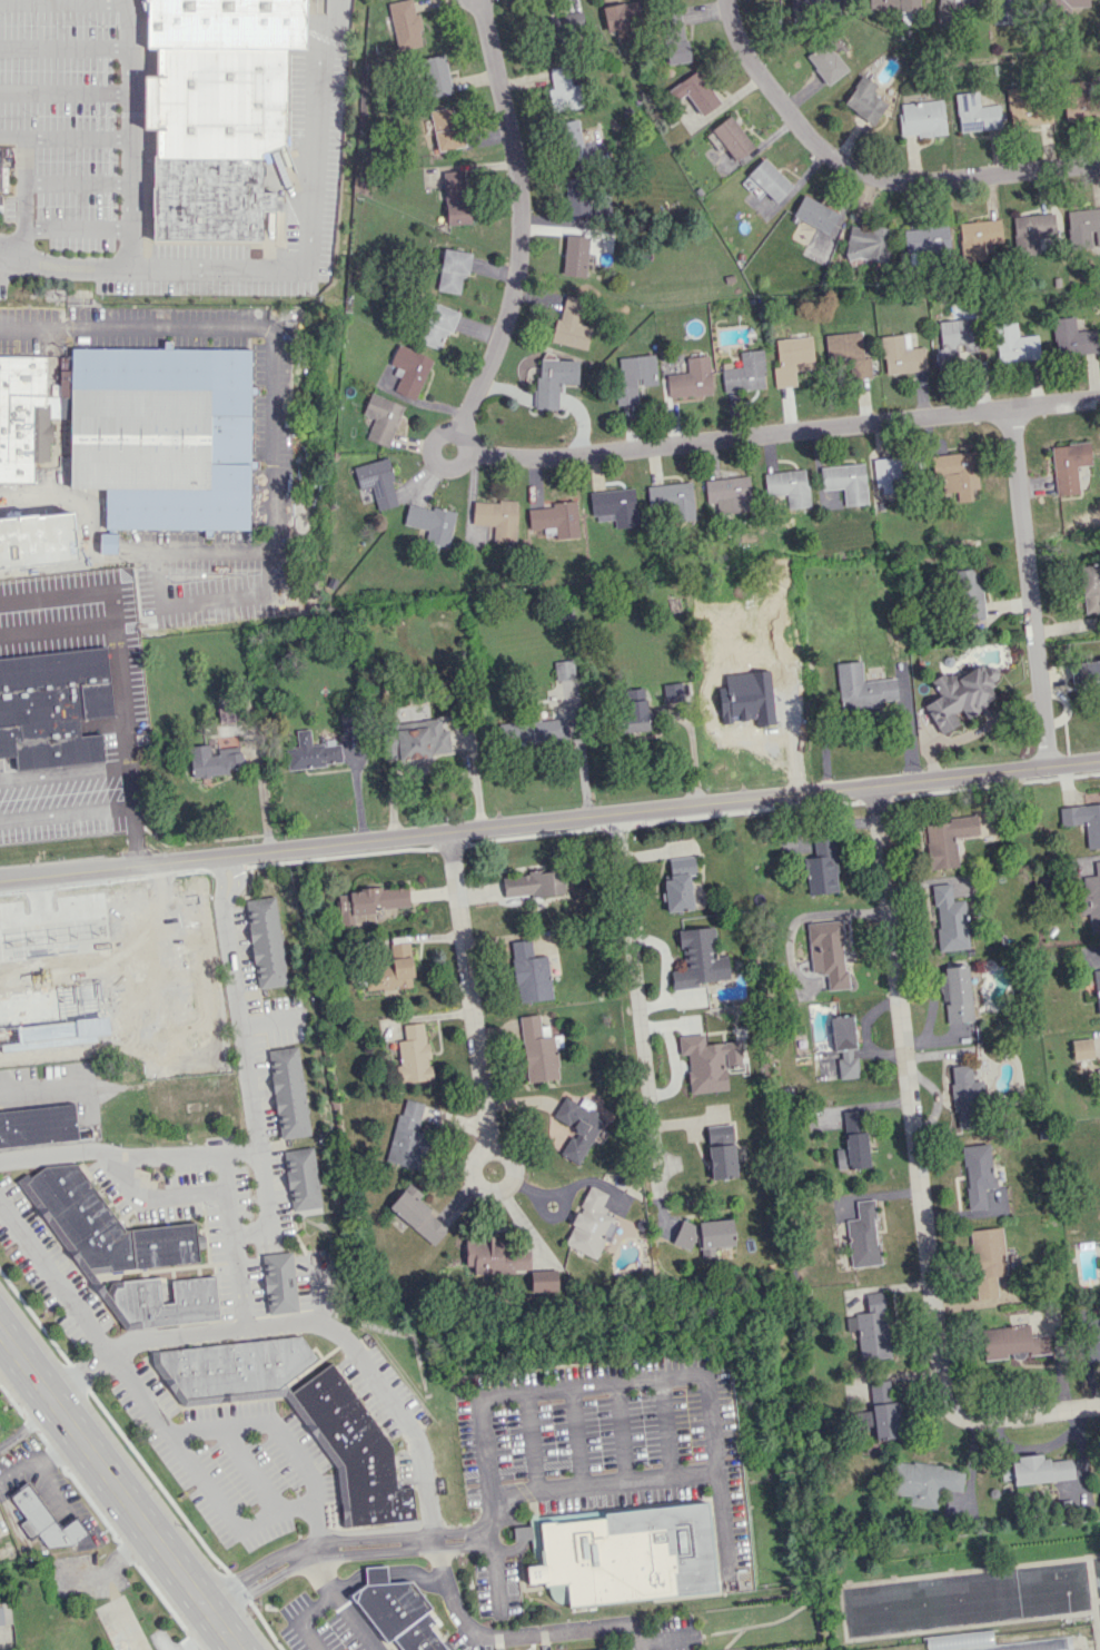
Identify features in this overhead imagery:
road: (479, 2)
road: (483, 4)
building: (960, 4)
building: (1064, 4)
building: (890, 6)
building: (814, 7)
building: (1004, 10)
building: (621, 19)
building: (227, 24)
building: (405, 24)
building: (563, 26)
building: (677, 36)
building: (825, 63)
building: (436, 76)
building: (563, 88)
road: (65, 91)
building: (695, 92)
building: (864, 100)
building: (1077, 101)
building: (975, 113)
building: (921, 118)
building: (445, 128)
road: (130, 134)
road: (65, 136)
building: (732, 138)
parking lot: (87, 139)
building: (216, 140)
building: (572, 142)
road: (868, 175)
building: (769, 179)
building: (1, 182)
road: (23, 197)
building: (455, 197)
building: (576, 197)
building: (815, 214)
road: (311, 224)
building: (1083, 228)
building: (1031, 231)
road: (519, 237)
building: (978, 238)
building: (925, 239)
building: (868, 243)
building: (575, 255)
road: (63, 266)
building: (453, 269)
building: (437, 325)
building: (571, 325)
road: (249, 326)
building: (1072, 338)
building: (957, 344)
building: (1013, 344)
building: (848, 353)
building: (901, 356)
building: (791, 359)
building: (409, 370)
building: (744, 373)
building: (633, 377)
building: (691, 378)
building: (553, 381)
building: (26, 416)
building: (381, 418)
road: (790, 432)
building: (150, 443)
road: (430, 457)
building: (1068, 466)
building: (957, 473)
building: (888, 475)
building: (377, 482)
building: (845, 482)
building: (789, 486)
building: (727, 495)
building: (673, 498)
building: (615, 506)
building: (497, 517)
building: (555, 518)
building: (430, 523)
building: (108, 541)
road: (135, 554)
road: (1028, 586)
building: (1090, 587)
building: (776, 590)
road: (155, 591)
building: (969, 593)
building: (1087, 673)
road: (120, 674)
building: (861, 688)
building: (671, 691)
building: (960, 695)
building: (745, 704)
building: (52, 707)
building: (635, 710)
building: (226, 714)
building: (535, 732)
building: (422, 741)
building: (313, 752)
building: (212, 761)
road: (427, 767)
road: (549, 820)
building: (1083, 821)
building: (947, 840)
building: (821, 868)
building: (533, 883)
building: (680, 883)
building: (1091, 898)
building: (950, 919)
building: (266, 942)
building: (829, 952)
building: (698, 959)
building: (111, 969)
building: (392, 970)
building: (529, 972)
building: (1097, 989)
road: (634, 992)
road: (198, 994)
building: (955, 994)
building: (19, 1009)
building: (844, 1046)
building: (537, 1049)
building: (1080, 1051)
road: (477, 1053)
building: (414, 1054)
road: (250, 1061)
building: (708, 1061)
building: (1098, 1077)
road: (39, 1088)
building: (288, 1093)
building: (965, 1097)
building: (40, 1126)
building: (577, 1126)
building: (407, 1136)
road: (131, 1152)
building: (721, 1152)
building: (853, 1152)
road: (916, 1174)
building: (977, 1174)
building: (301, 1178)
building: (417, 1215)
building: (591, 1224)
building: (105, 1225)
building: (705, 1234)
building: (863, 1235)
building: (499, 1256)
building: (987, 1261)
building: (544, 1281)
building: (279, 1283)
road: (319, 1286)
building: (136, 1303)
road: (80, 1307)
road: (244, 1307)
building: (872, 1328)
building: (1011, 1342)
building: (1093, 1350)
building: (235, 1367)
road: (656, 1377)
road: (380, 1387)
building: (883, 1411)
building: (863, 1419)
road: (27, 1425)
road: (288, 1448)
building: (355, 1450)
building: (1037, 1470)
building: (923, 1482)
road: (117, 1492)
road: (228, 1511)
building: (43, 1520)
road: (723, 1522)
building: (628, 1553)
road: (493, 1573)
road: (321, 1602)
building: (3, 1611)
building: (397, 1611)
road: (462, 1621)
building: (1042, 1647)

